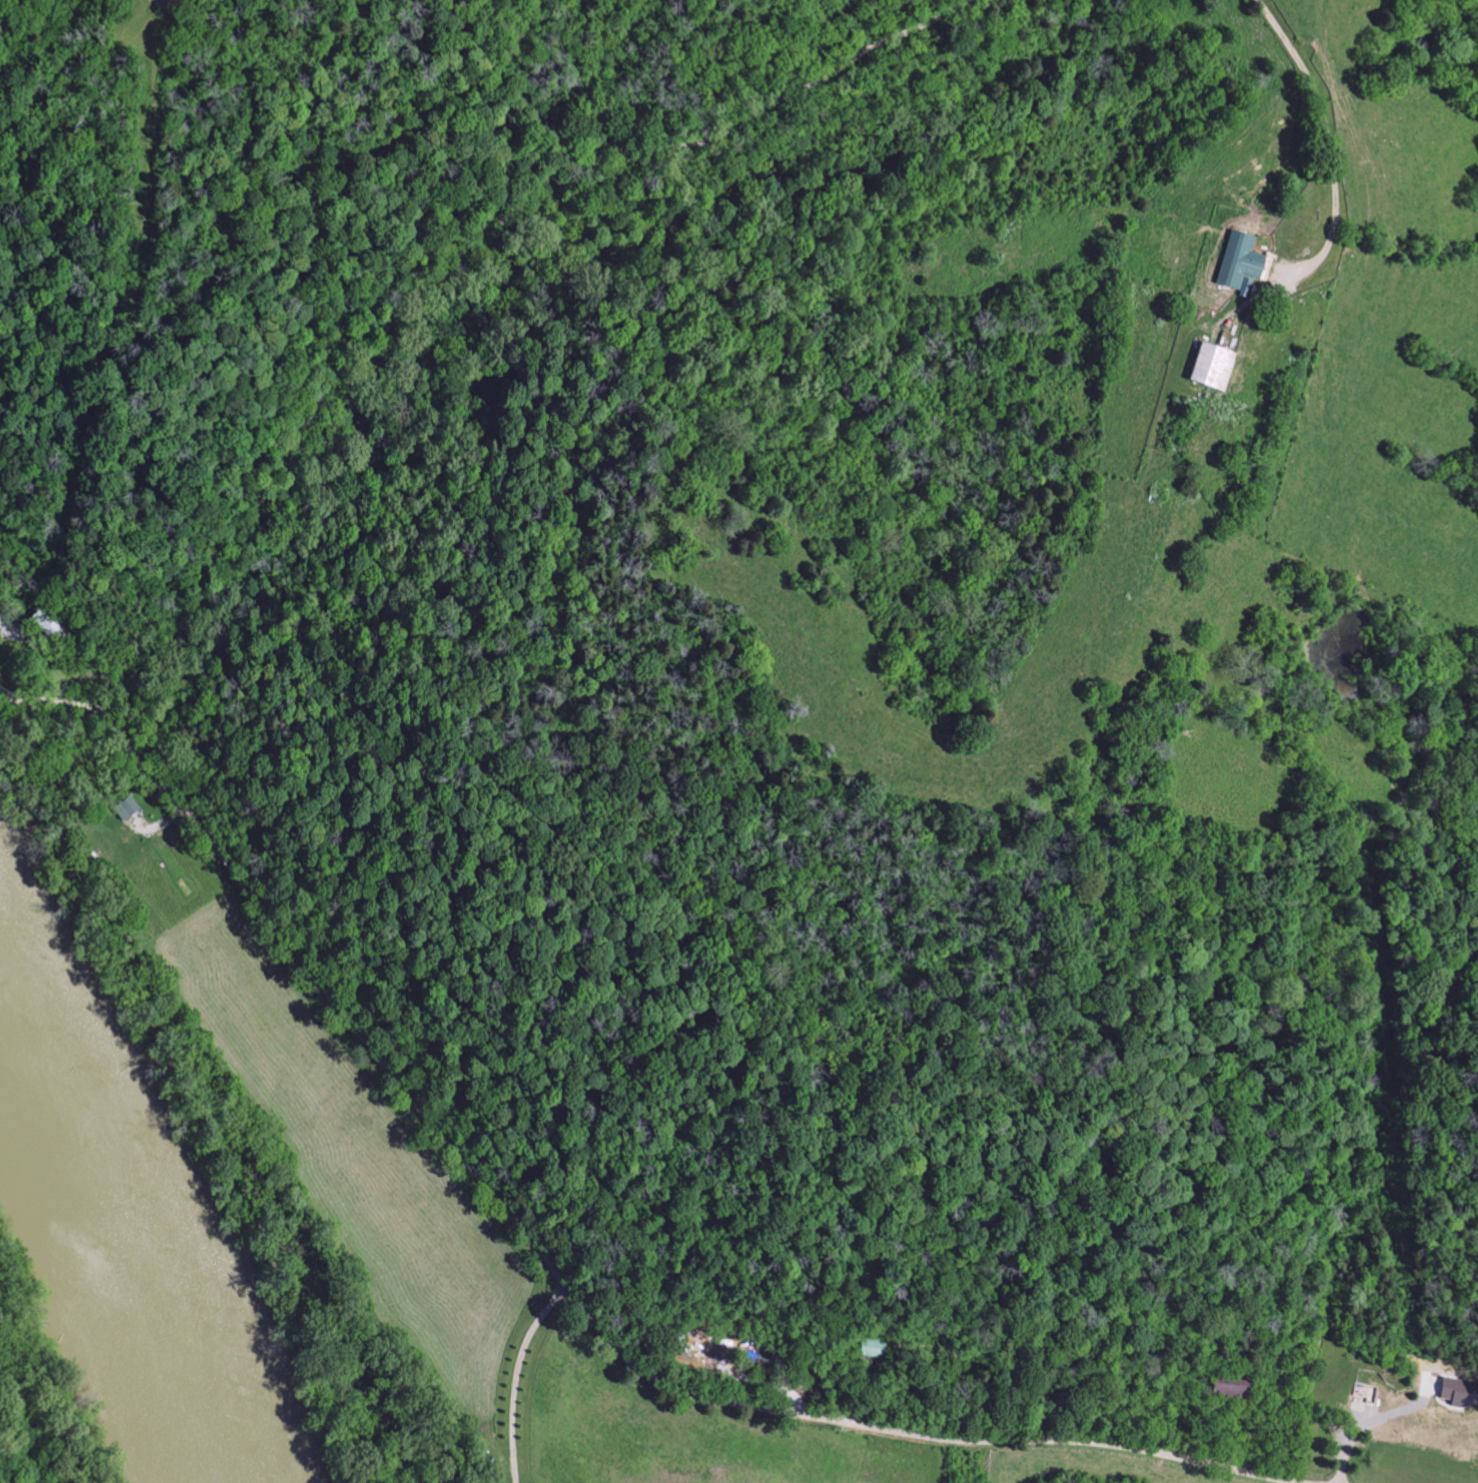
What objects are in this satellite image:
road: (1326, 140)
building: (1239, 262)
road: (438, 271)
building: (1211, 368)
building: (125, 808)
river: (116, 1250)
road: (540, 1253)
building: (871, 1348)
road: (516, 1376)
building: (1234, 1384)
building: (1458, 1395)
road: (1370, 1421)
road: (997, 1461)

